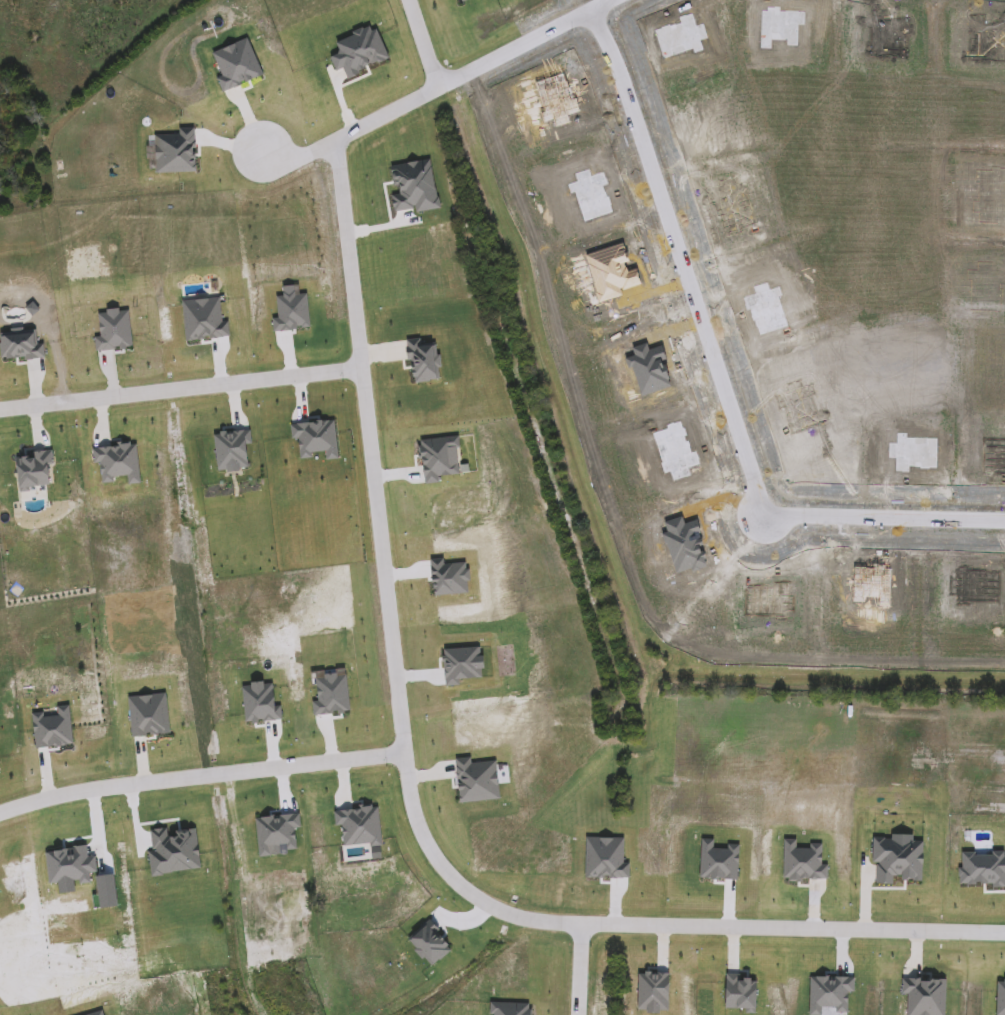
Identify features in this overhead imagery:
road: (423, 43)
road: (525, 43)
road: (349, 134)
building: (414, 187)
building: (293, 309)
building: (204, 318)
building: (114, 329)
building: (22, 345)
building: (423, 356)
road: (719, 375)
road: (180, 387)
building: (316, 440)
building: (232, 449)
building: (440, 459)
building: (117, 461)
building: (285, 473)
building: (34, 474)
building: (450, 575)
building: (461, 663)
building: (330, 691)
building: (261, 702)
building: (148, 715)
building: (53, 727)
road: (200, 775)
building: (478, 776)
road: (409, 796)
building: (357, 831)
building: (277, 836)
building: (173, 850)
building: (603, 857)
building: (803, 861)
building: (718, 862)
building: (897, 864)
building: (71, 865)
building: (982, 871)
building: (107, 890)
building: (427, 944)
road: (577, 970)
building: (649, 993)
building: (737, 993)
building: (829, 995)
building: (922, 997)
building: (1001, 998)
building: (509, 1009)

